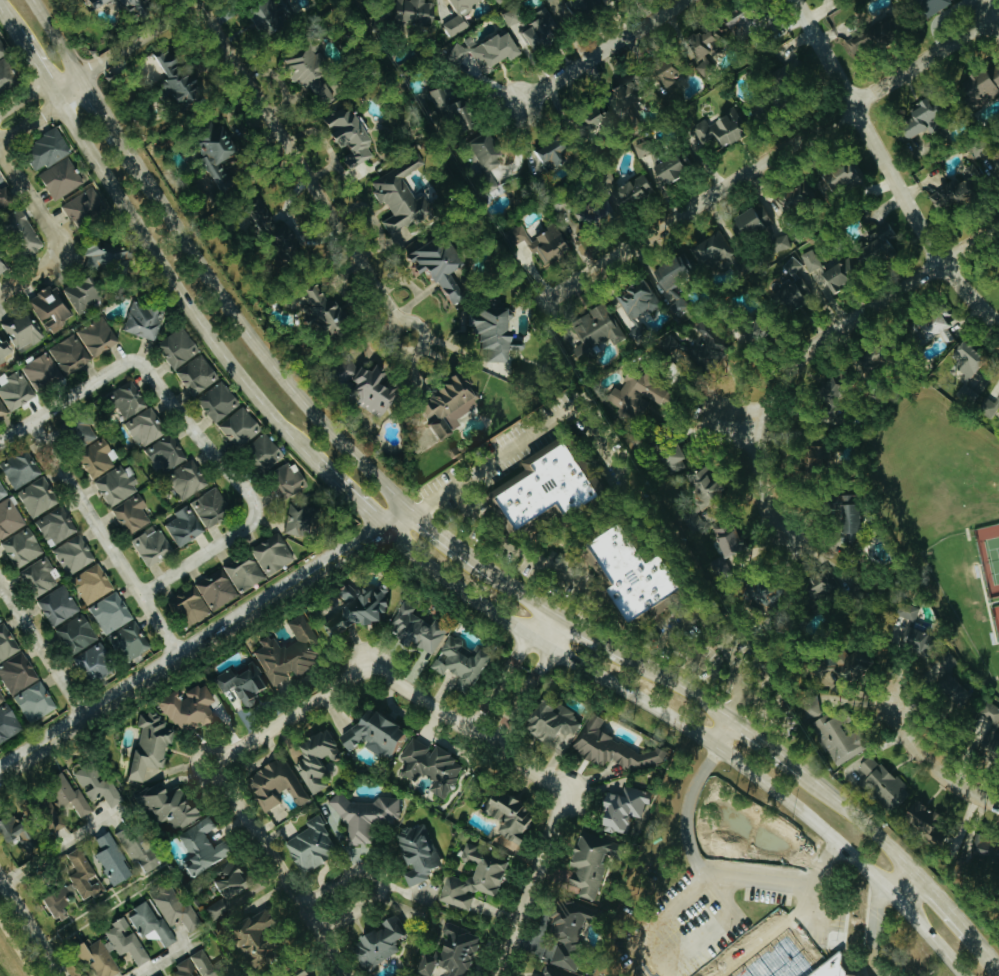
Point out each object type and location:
building: (928, 5)
building: (138, 7)
building: (580, 8)
building: (409, 11)
building: (458, 15)
building: (274, 19)
building: (742, 20)
road: (6, 25)
building: (539, 28)
building: (878, 32)
road: (145, 41)
building: (703, 46)
building: (483, 50)
road: (595, 53)
road: (33, 68)
building: (312, 69)
building: (663, 74)
building: (8, 76)
building: (183, 83)
building: (980, 85)
building: (625, 94)
road: (43, 108)
building: (456, 108)
building: (599, 117)
building: (918, 117)
building: (352, 134)
building: (648, 148)
building: (50, 151)
building: (490, 151)
building: (555, 151)
building: (221, 155)
road: (766, 158)
building: (995, 164)
road: (306, 165)
building: (679, 166)
road: (885, 172)
building: (63, 178)
building: (827, 181)
building: (640, 188)
building: (953, 191)
building: (6, 197)
building: (404, 203)
building: (87, 207)
building: (601, 213)
building: (266, 220)
road: (50, 229)
building: (765, 229)
building: (27, 230)
building: (293, 239)
building: (545, 242)
building: (876, 244)
building: (106, 252)
building: (719, 252)
building: (810, 258)
building: (3, 260)
building: (444, 265)
road: (208, 269)
building: (816, 276)
building: (998, 276)
building: (678, 279)
building: (86, 293)
road: (9, 294)
road: (185, 303)
building: (644, 306)
building: (54, 308)
building: (324, 310)
building: (145, 320)
building: (933, 326)
building: (23, 329)
building: (601, 330)
building: (499, 333)
building: (100, 336)
road: (816, 341)
building: (713, 342)
building: (180, 347)
building: (4, 348)
building: (967, 357)
building: (58, 362)
building: (198, 374)
building: (840, 385)
building: (372, 386)
building: (18, 390)
building: (645, 390)
building: (997, 396)
building: (130, 400)
building: (220, 401)
building: (452, 407)
building: (3, 409)
road: (199, 424)
building: (147, 426)
building: (241, 427)
building: (87, 431)
road: (529, 431)
building: (265, 452)
building: (681, 453)
building: (167, 454)
building: (100, 456)
building: (23, 469)
building: (188, 479)
building: (287, 480)
building: (709, 484)
building: (563, 485)
building: (2, 491)
building: (39, 496)
building: (213, 508)
road: (361, 509)
building: (133, 513)
building: (10, 518)
building: (302, 520)
building: (860, 521)
building: (57, 525)
building: (186, 525)
road: (445, 536)
building: (734, 538)
road: (115, 542)
building: (154, 545)
building: (23, 547)
building: (75, 554)
building: (275, 554)
road: (530, 558)
park: (991, 559)
building: (642, 569)
building: (248, 573)
building: (41, 576)
building: (828, 582)
building: (94, 583)
building: (219, 589)
road: (522, 591)
building: (60, 605)
building: (195, 605)
building: (364, 607)
building: (916, 610)
building: (112, 612)
building: (0, 620)
road: (679, 627)
building: (422, 628)
building: (78, 633)
building: (924, 637)
road: (597, 638)
building: (130, 641)
building: (7, 643)
road: (46, 645)
road: (209, 646)
building: (294, 651)
building: (467, 659)
road: (508, 661)
building: (950, 661)
building: (97, 662)
building: (854, 669)
building: (18, 673)
road: (375, 673)
building: (246, 681)
road: (531, 683)
road: (678, 684)
building: (2, 697)
building: (36, 701)
building: (191, 708)
building: (993, 710)
building: (558, 720)
building: (8, 722)
road: (722, 731)
road: (690, 732)
building: (841, 732)
building: (382, 734)
road: (768, 742)
building: (615, 746)
building: (154, 747)
building: (998, 751)
building: (319, 760)
road: (934, 760)
building: (434, 765)
building: (279, 784)
building: (103, 786)
building: (72, 794)
building: (906, 796)
building: (173, 805)
building: (629, 807)
road: (688, 809)
building: (369, 814)
road: (857, 818)
building: (518, 819)
building: (22, 833)
building: (316, 844)
building: (207, 846)
building: (989, 846)
road: (60, 849)
building: (142, 851)
building: (422, 851)
building: (115, 859)
building: (595, 863)
road: (821, 866)
building: (86, 874)
road: (377, 875)
road: (899, 877)
building: (479, 880)
road: (766, 886)
building: (232, 887)
road: (942, 900)
building: (61, 905)
building: (178, 909)
road: (33, 923)
building: (153, 923)
road: (745, 923)
road: (709, 925)
parking lot: (726, 929)
road: (869, 932)
building: (265, 934)
building: (574, 936)
building: (127, 941)
building: (385, 942)
road: (797, 944)
road: (986, 950)
building: (456, 952)
building: (100, 958)
road: (170, 960)
road: (845, 962)
building: (212, 965)
building: (832, 967)
building: (188, 968)
building: (559, 971)
building: (162, 975)
building: (872, 975)

